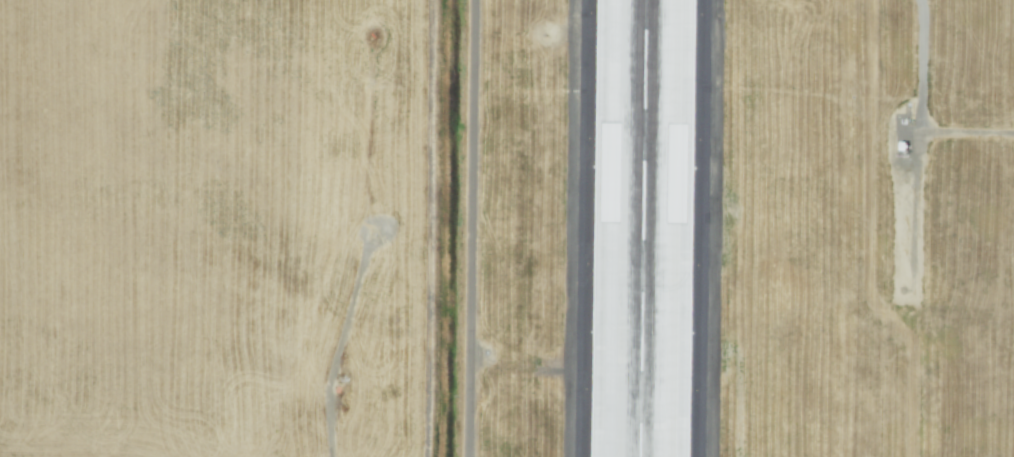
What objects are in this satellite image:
airport: (587, 228)
airport runway: (642, 228)

